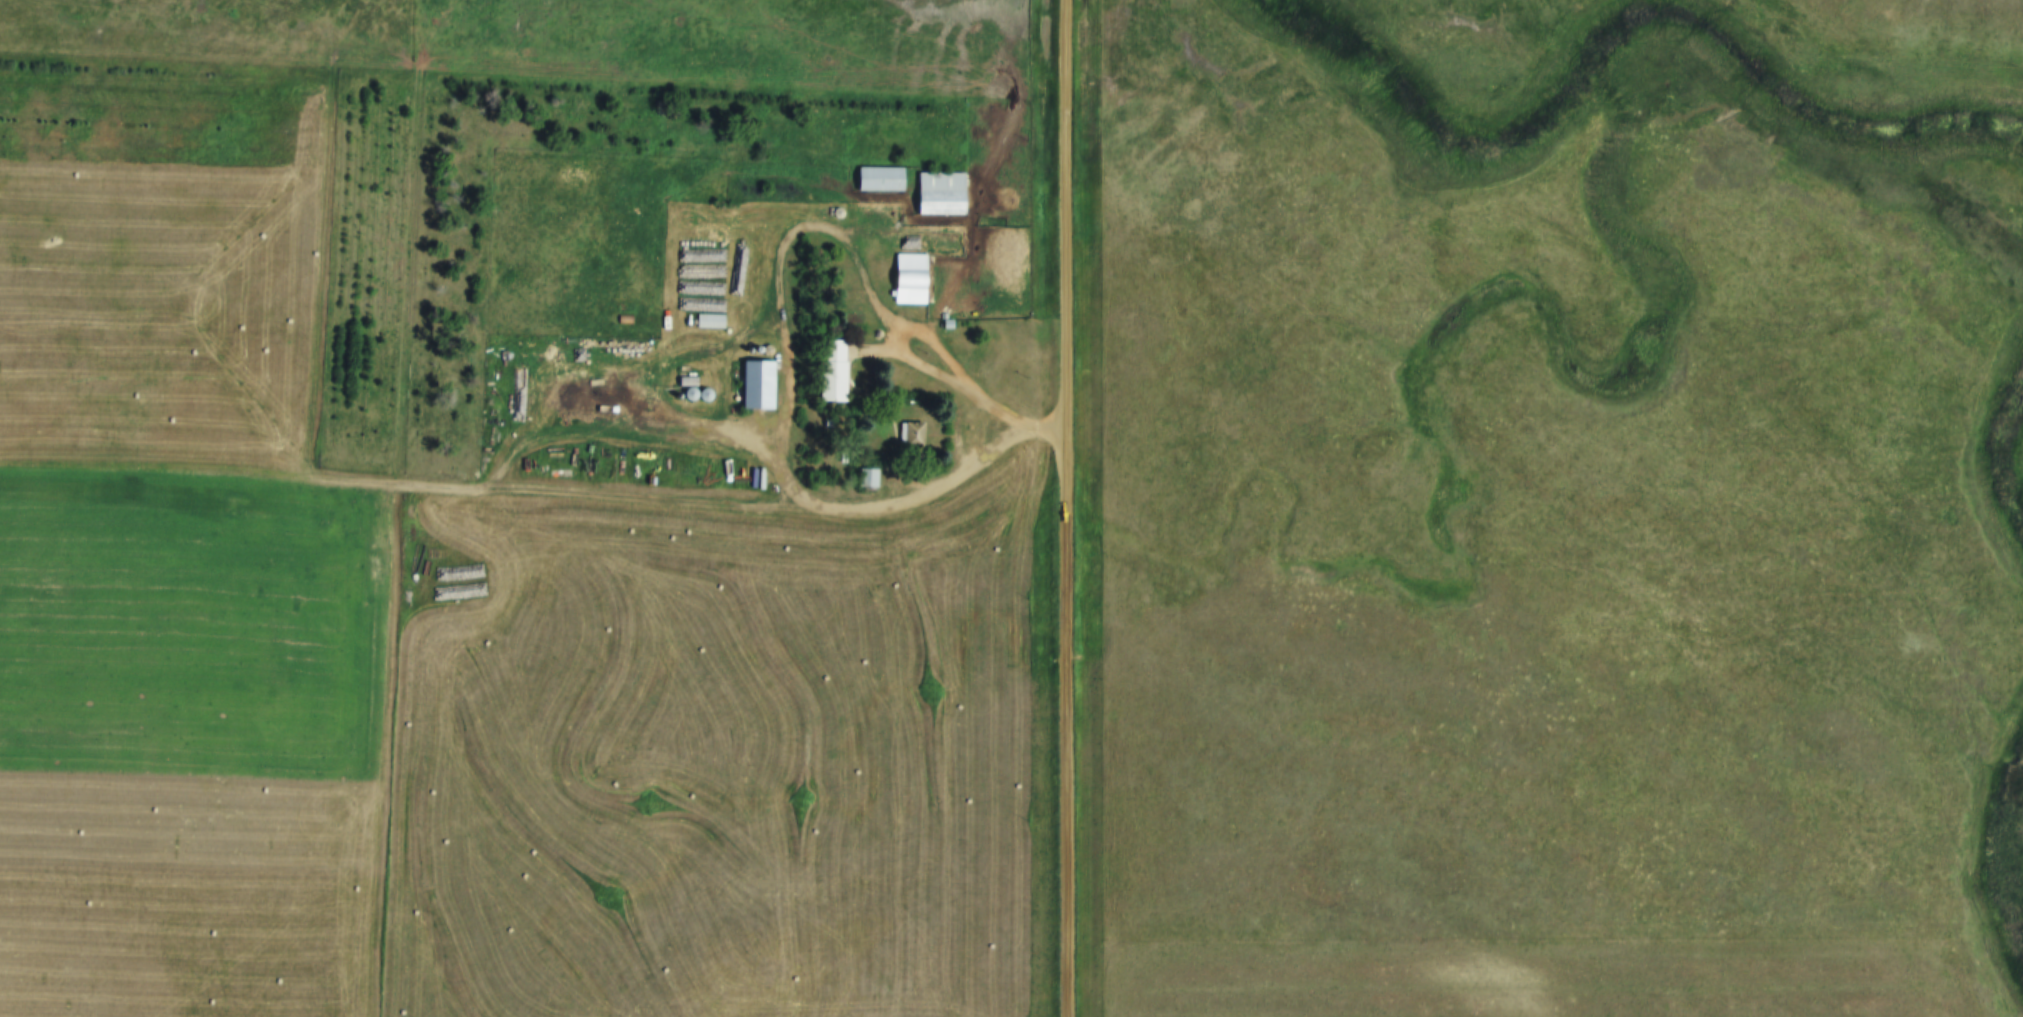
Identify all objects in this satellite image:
building: (878, 176)
building: (939, 190)
building: (836, 209)
silo: (836, 209)
building: (908, 275)
building: (709, 316)
building: (946, 320)
building: (708, 322)
road: (941, 352)
building: (829, 368)
building: (729, 373)
building: (686, 376)
building: (755, 383)
building: (687, 391)
silo: (687, 391)
building: (702, 392)
silo: (702, 392)
building: (912, 431)
building: (867, 472)
road: (401, 485)
road: (1068, 508)
road: (842, 516)
road: (390, 751)

